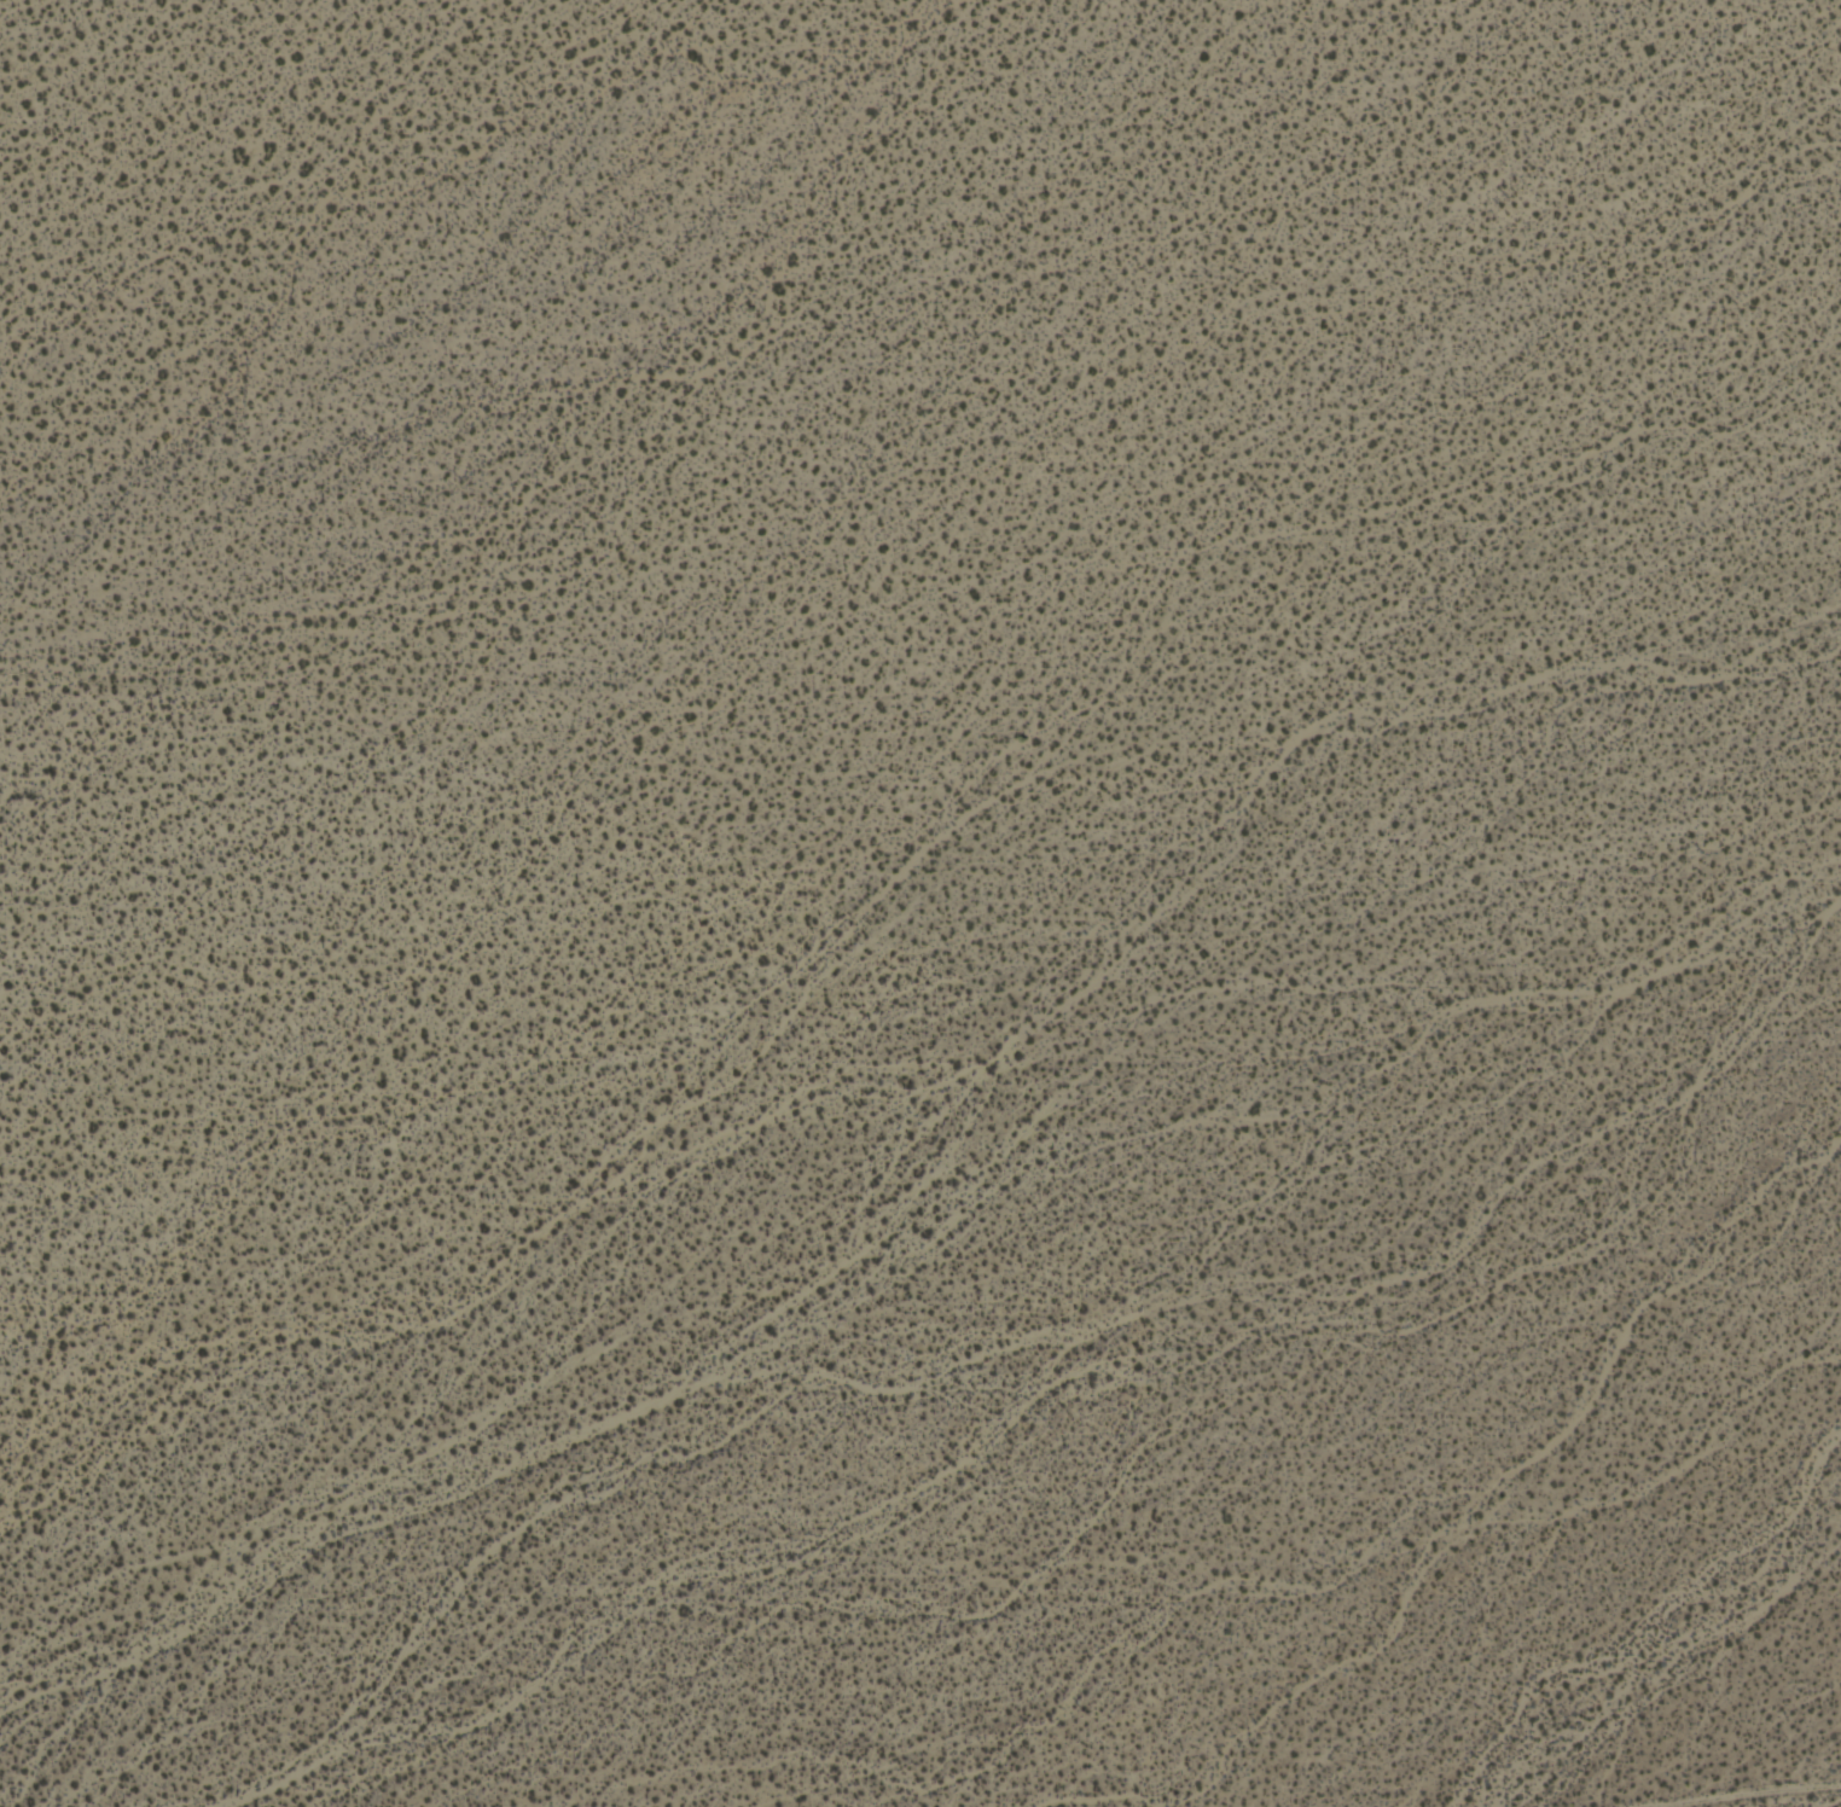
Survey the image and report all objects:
road: (1773, 1793)
road: (1677, 1803)

